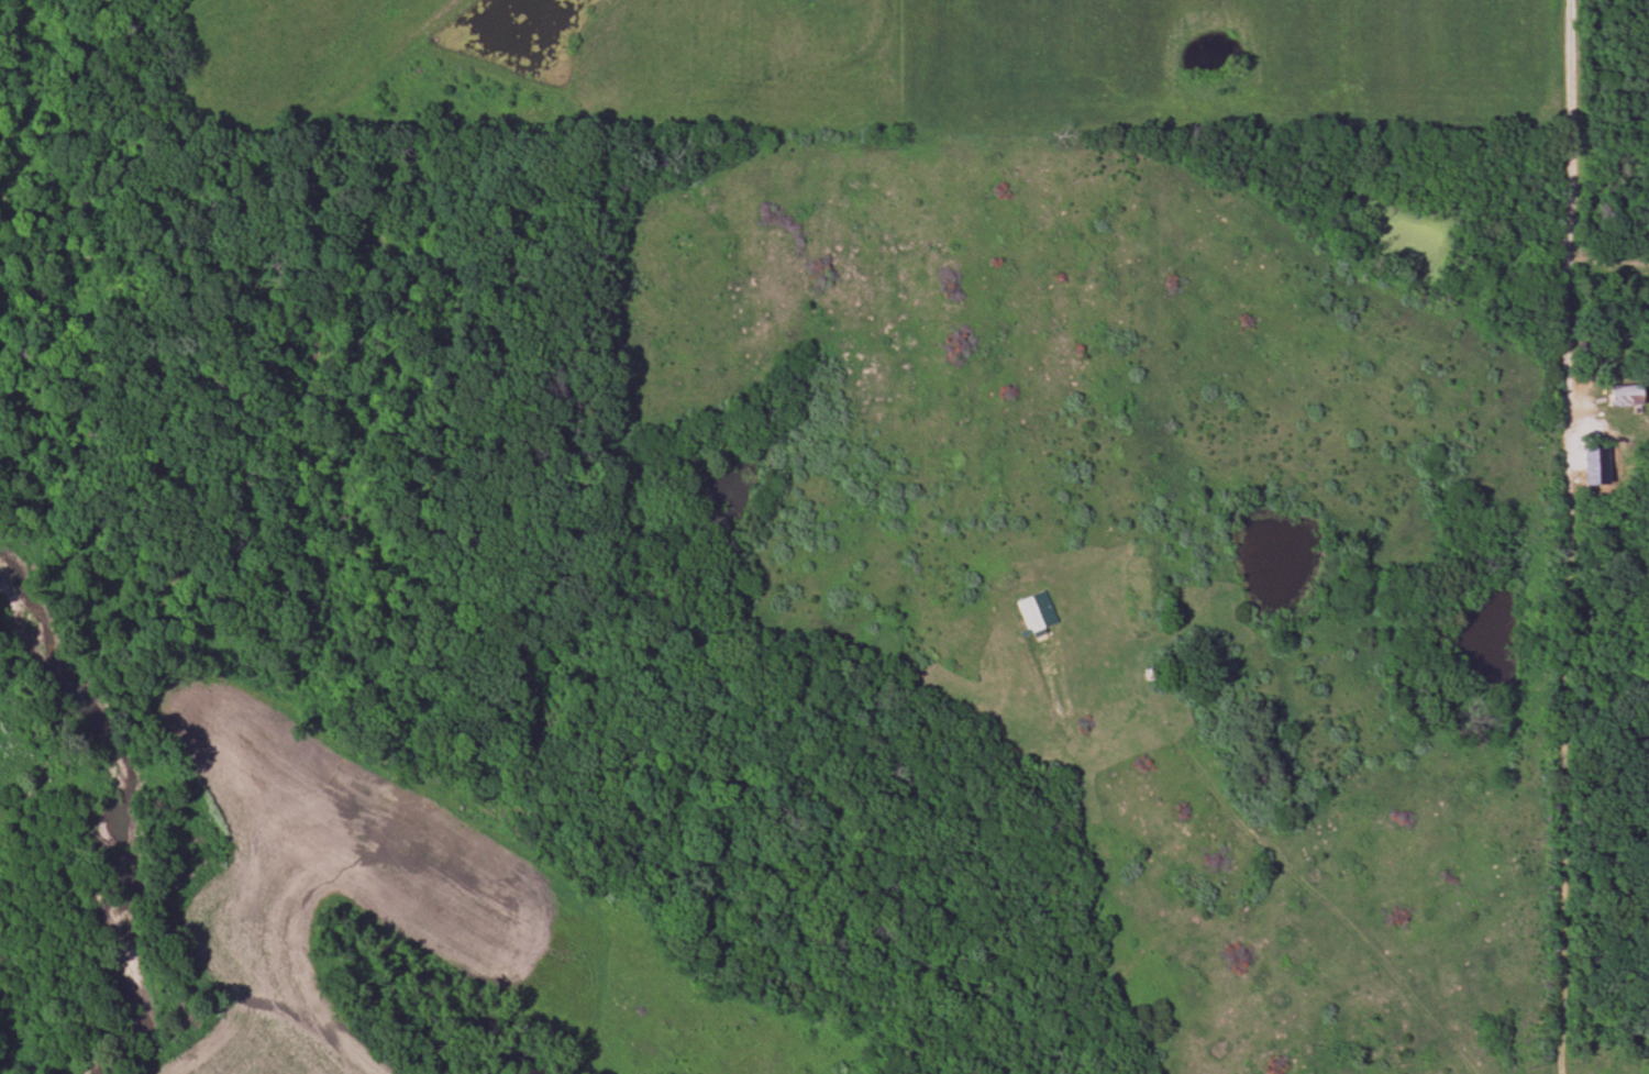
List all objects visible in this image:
building: (1618, 392)
road: (1554, 536)
building: (1085, 690)

